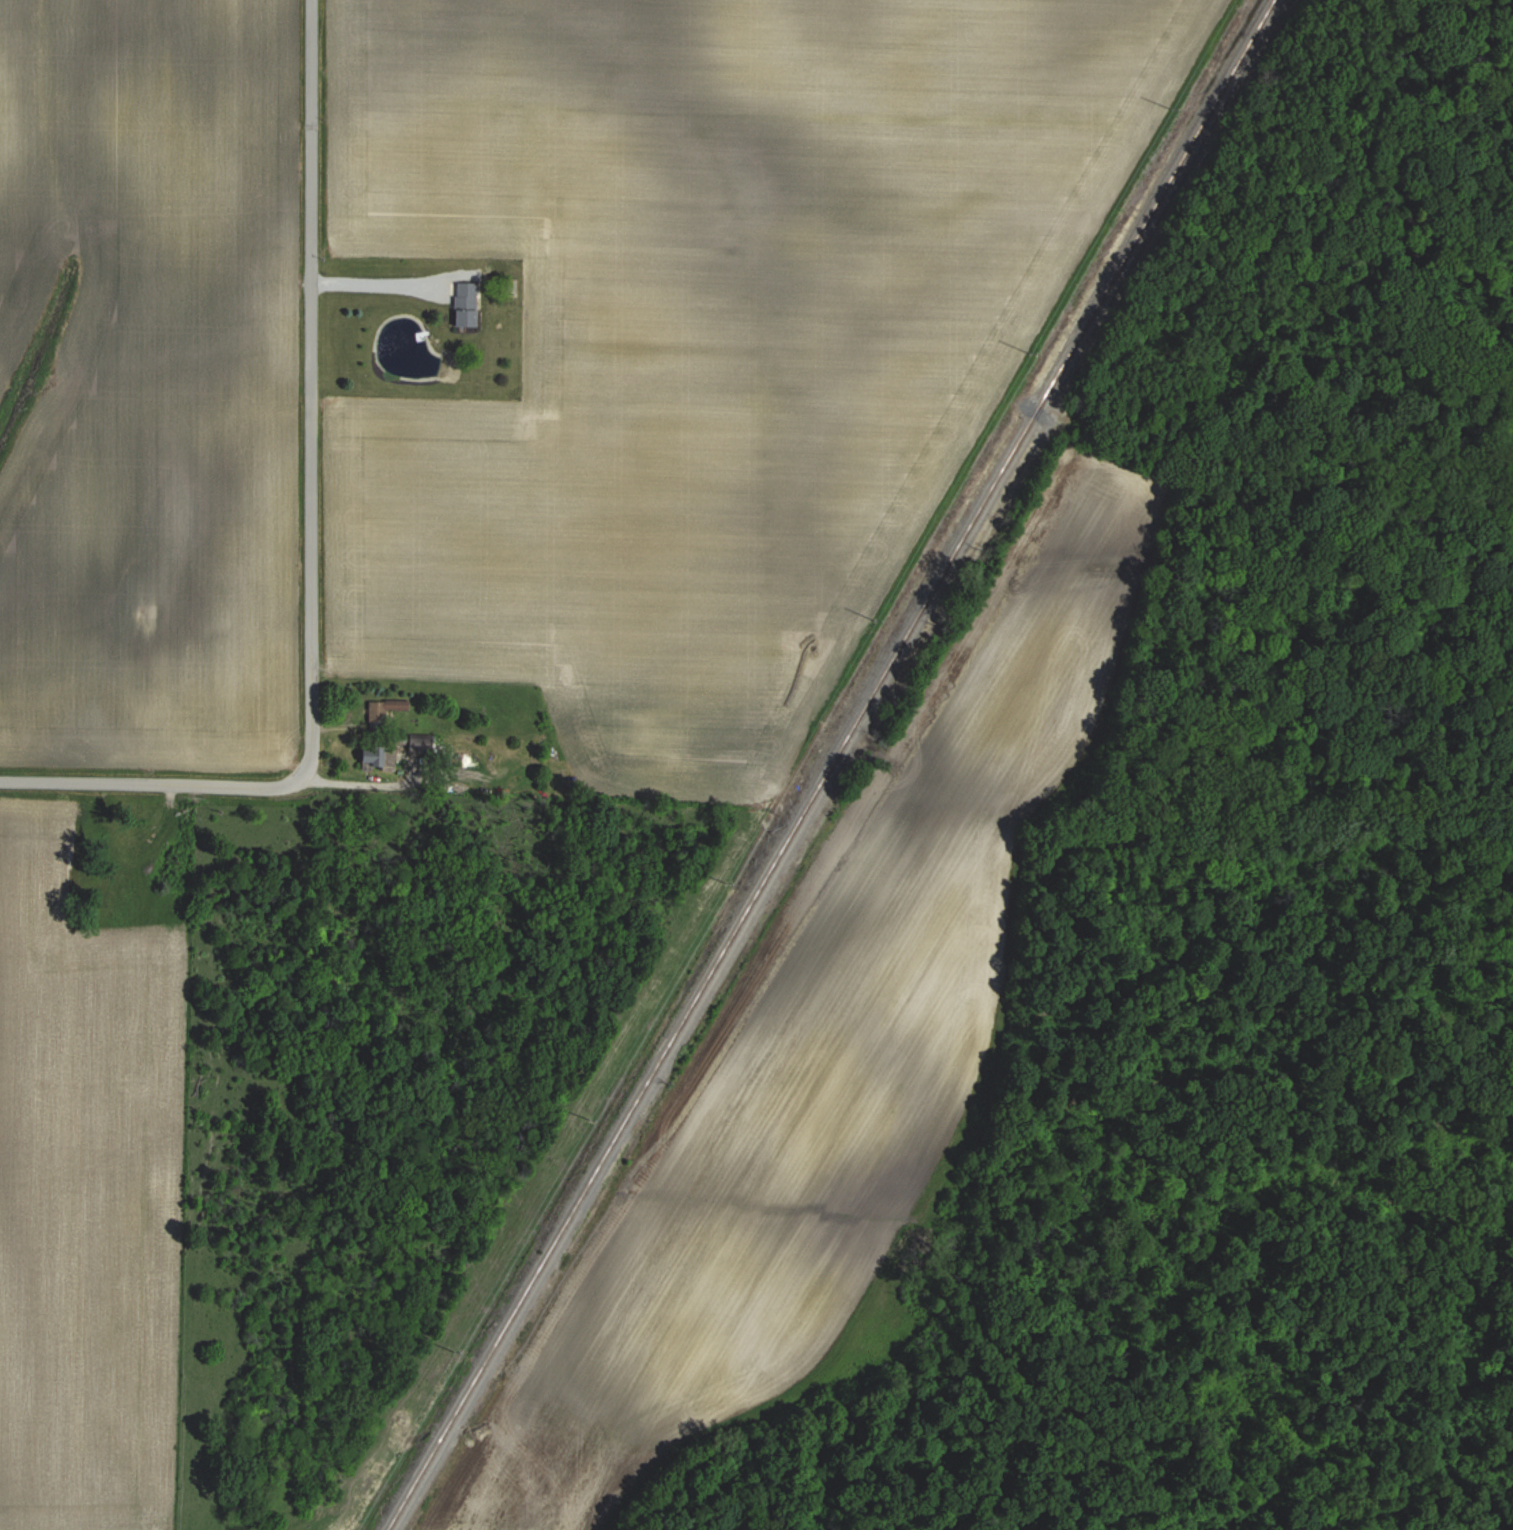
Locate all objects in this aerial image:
road: (391, 289)
building: (470, 303)
road: (306, 395)
railway: (834, 764)
road: (154, 787)
road: (373, 788)

